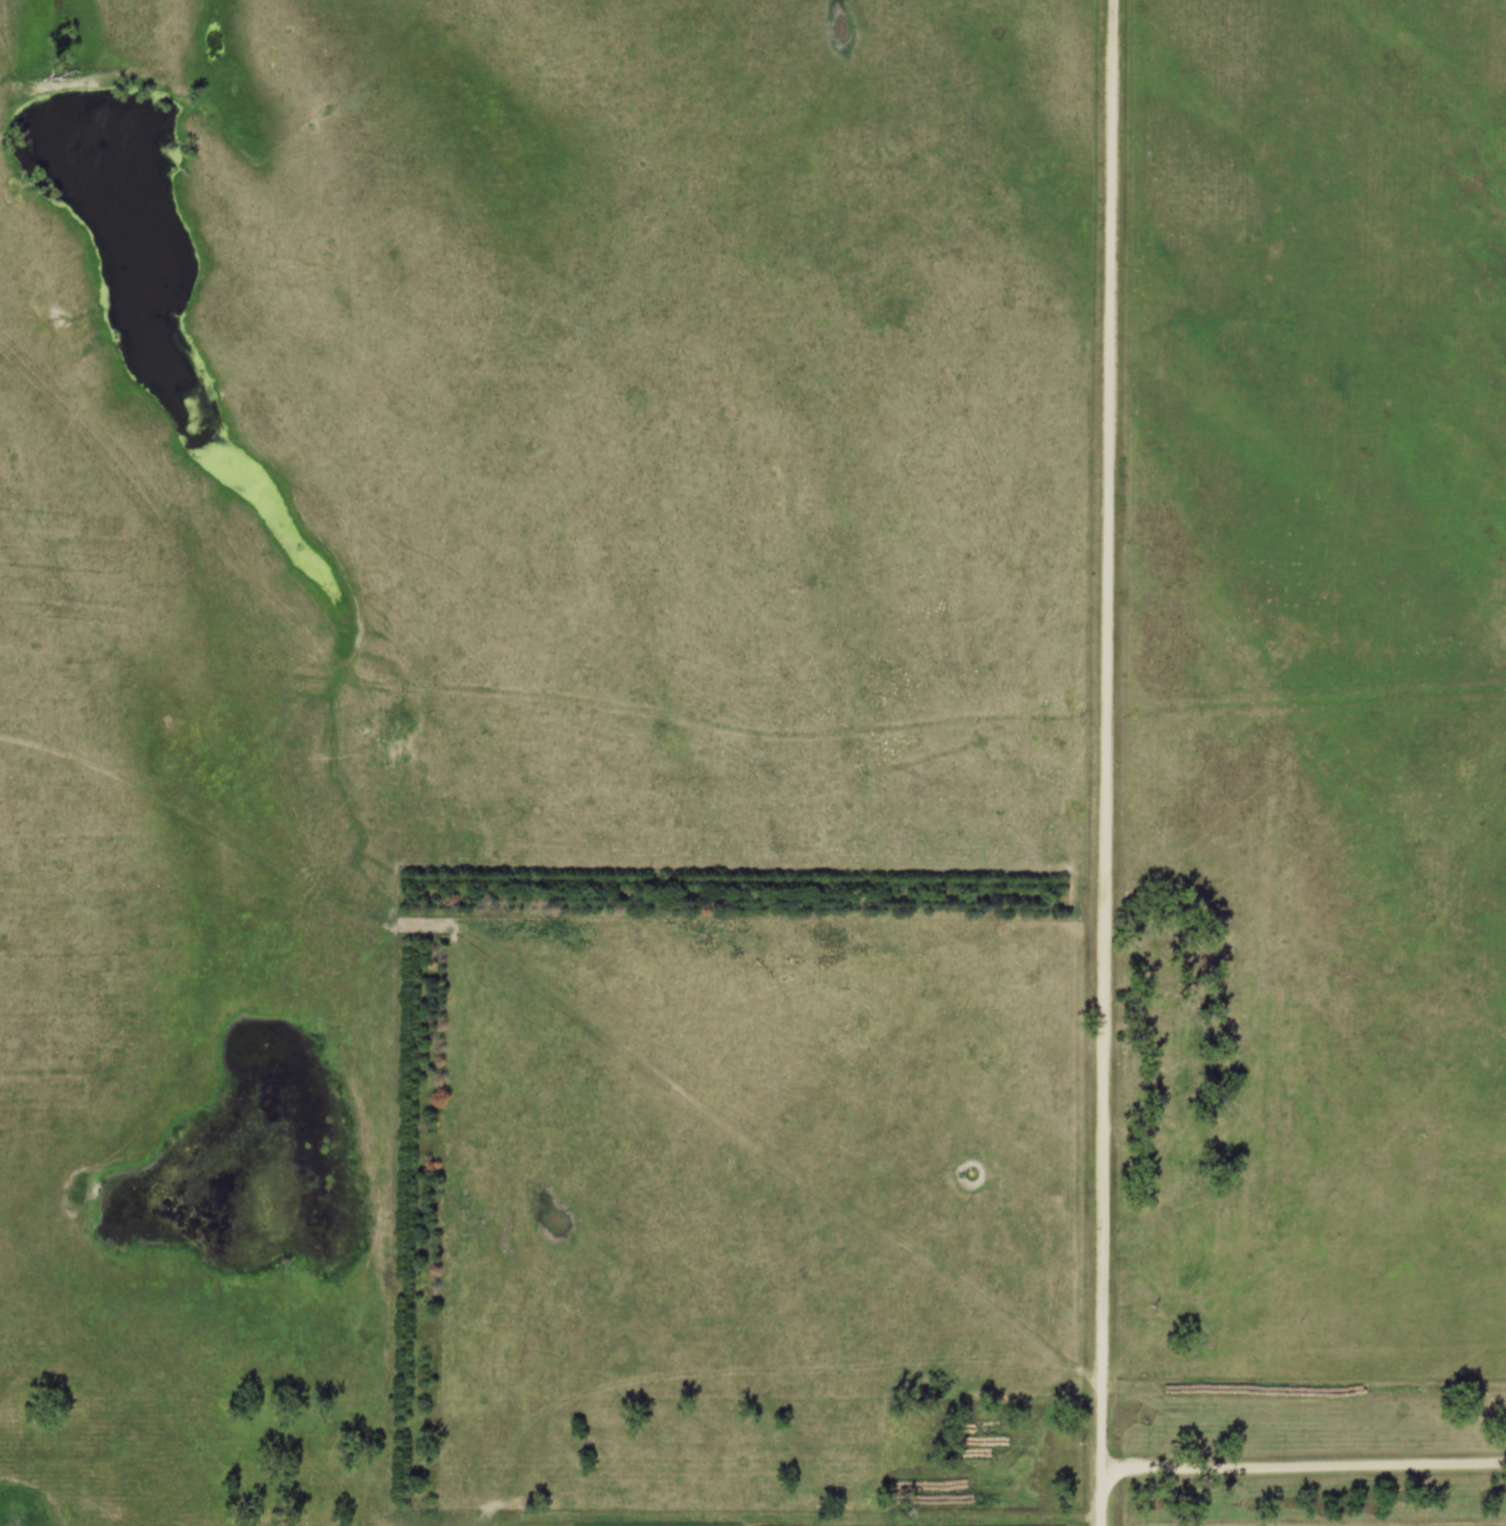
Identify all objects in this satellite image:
road: (1103, 762)
road: (1304, 1470)

